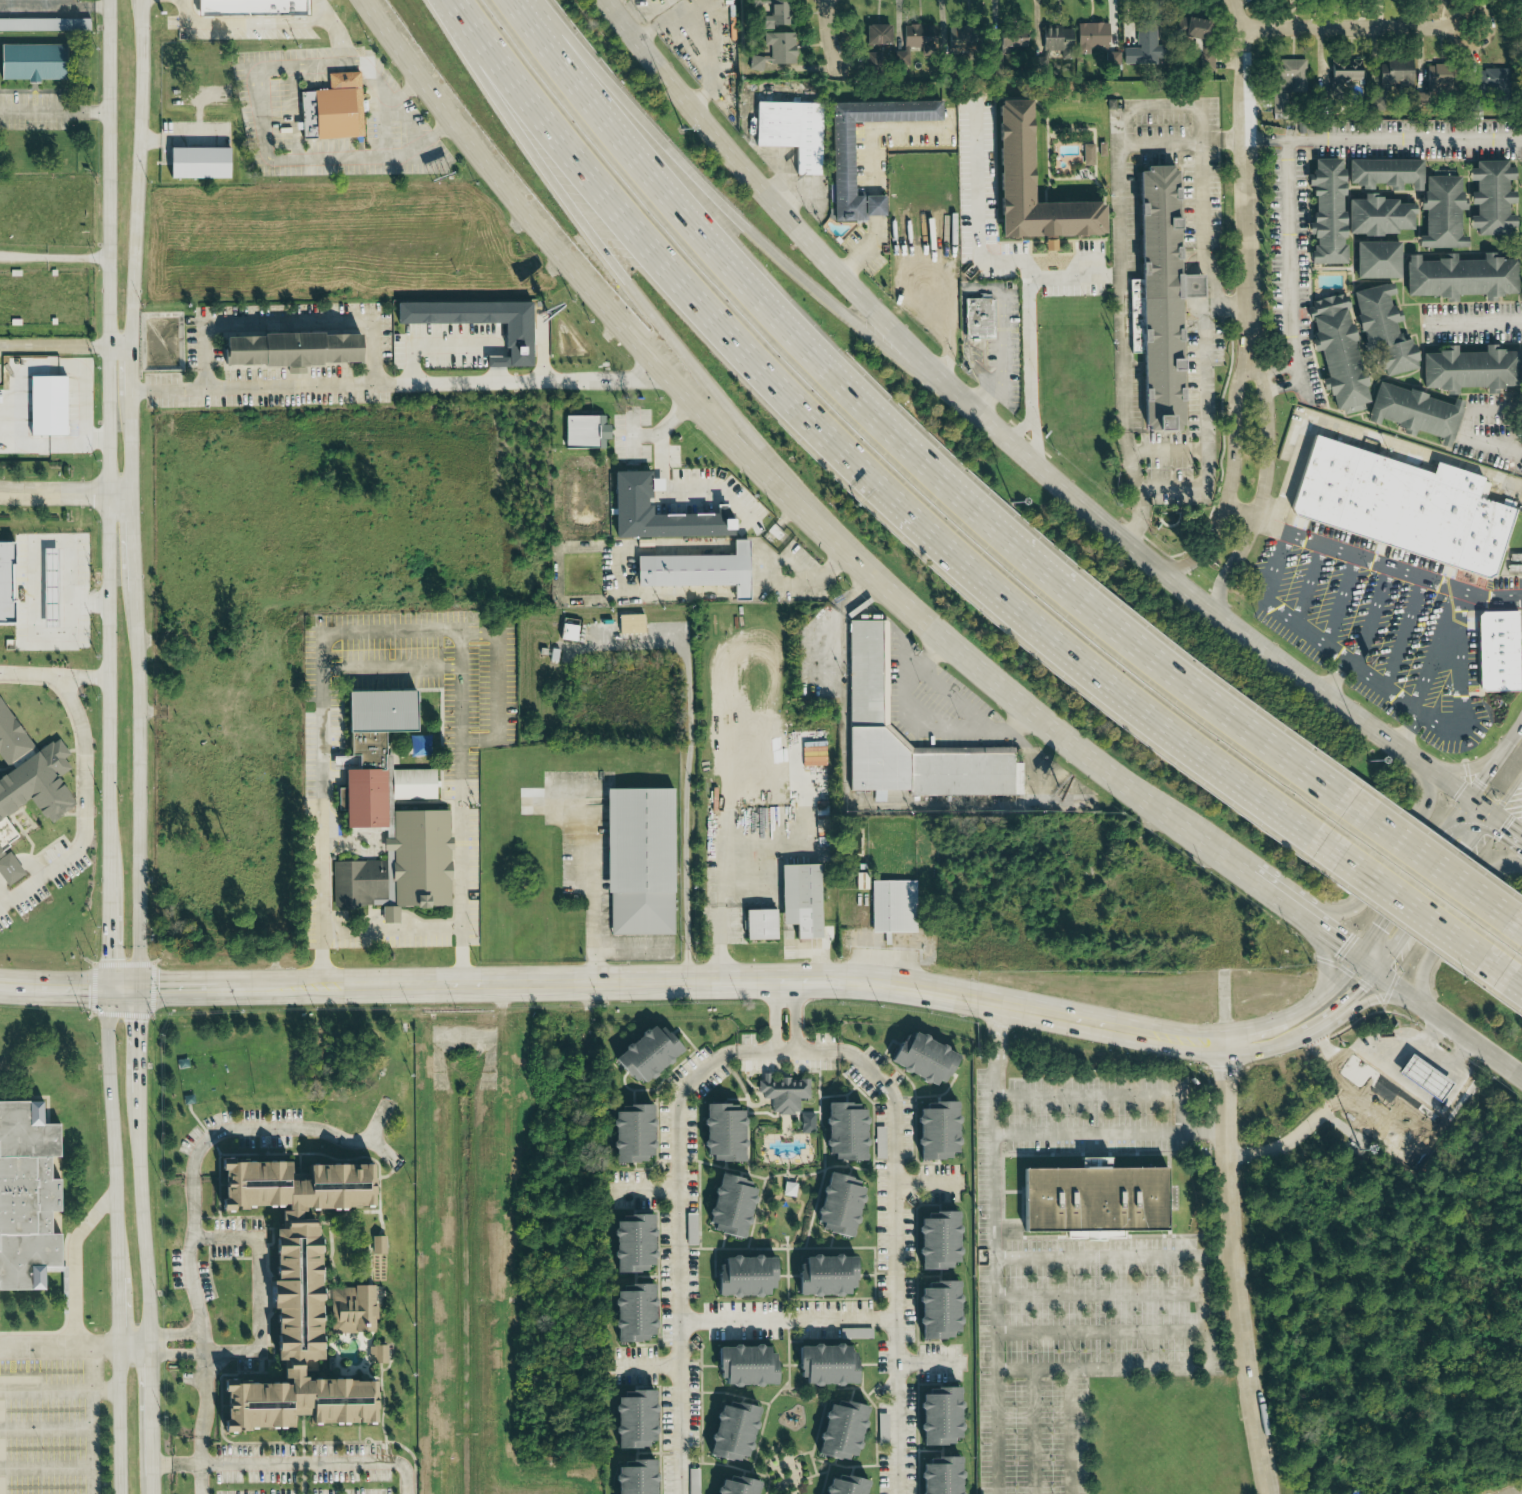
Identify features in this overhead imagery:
building: (71, 0)
road: (157, 0)
road: (179, 5)
road: (54, 7)
building: (253, 8)
road: (326, 11)
road: (254, 23)
building: (44, 25)
road: (1356, 27)
building: (1191, 29)
building: (777, 33)
building: (877, 35)
building: (918, 37)
building: (1090, 37)
road: (829, 38)
building: (1054, 38)
road: (697, 39)
building: (959, 39)
building: (1007, 41)
road: (338, 43)
building: (1142, 48)
building: (870, 57)
road: (356, 62)
building: (1206, 62)
building: (30, 63)
building: (1343, 73)
building: (1391, 74)
road: (260, 76)
building: (1491, 79)
building: (1438, 80)
building: (1286, 81)
road: (405, 91)
road: (394, 103)
road: (1161, 107)
building: (334, 109)
road: (54, 111)
building: (789, 131)
road: (878, 131)
road: (435, 133)
road: (182, 138)
road: (1291, 139)
building: (1014, 154)
building: (1087, 154)
road: (347, 156)
building: (840, 157)
building: (201, 163)
road: (139, 173)
building: (1384, 173)
road: (1245, 176)
road: (787, 183)
road: (781, 196)
building: (1490, 197)
road: (1203, 200)
road: (876, 204)
building: (1326, 210)
building: (1440, 211)
building: (1377, 215)
road: (747, 230)
road: (462, 240)
building: (1049, 244)
road: (866, 249)
road: (23, 255)
road: (78, 256)
building: (1376, 259)
road: (1024, 264)
road: (1195, 264)
road: (1061, 276)
building: (1459, 276)
road: (1212, 280)
road: (1121, 281)
road: (1195, 285)
road: (981, 286)
building: (1158, 299)
road: (1201, 301)
road: (1227, 305)
building: (977, 317)
road: (1481, 320)
road: (292, 324)
road: (666, 328)
building: (1381, 329)
building: (515, 340)
road: (436, 342)
road: (66, 346)
building: (285, 348)
building: (1336, 352)
road: (497, 355)
building: (1469, 368)
road: (131, 369)
road: (498, 372)
road: (1279, 376)
road: (397, 387)
road: (982, 398)
building: (48, 404)
building: (1414, 411)
road: (82, 414)
road: (661, 429)
road: (1207, 429)
road: (1360, 429)
building: (583, 431)
road: (1496, 442)
road: (131, 443)
road: (1013, 444)
road: (904, 450)
road: (1168, 450)
road: (856, 476)
road: (1232, 477)
road: (764, 481)
road: (683, 487)
road: (1263, 488)
road: (65, 493)
building: (628, 503)
building: (1398, 505)
road: (133, 542)
road: (1372, 561)
building: (695, 570)
road: (1310, 582)
road: (782, 583)
building: (6, 584)
road: (1341, 600)
road: (26, 603)
road: (1371, 617)
road: (1293, 618)
building: (629, 623)
road: (346, 632)
building: (567, 632)
road: (1404, 635)
road: (1434, 651)
building: (1496, 651)
road: (1446, 662)
road: (391, 666)
building: (869, 674)
road: (54, 675)
road: (496, 684)
road: (1383, 688)
road: (958, 699)
road: (1465, 703)
road: (929, 724)
road: (109, 747)
road: (690, 754)
building: (375, 758)
road: (1495, 760)
road: (1464, 768)
building: (28, 776)
traffic signals: (1481, 781)
road: (139, 789)
road: (1508, 795)
road: (86, 810)
road: (1506, 824)
traffic signals: (1509, 826)
road: (802, 830)
traffic signals: (1467, 844)
road: (1396, 857)
building: (637, 860)
building: (399, 867)
road: (1438, 867)
building: (7, 869)
road: (1413, 877)
road: (590, 891)
road: (1432, 891)
building: (798, 899)
road: (1282, 904)
building: (891, 906)
road: (1412, 911)
road: (1456, 922)
building: (758, 924)
road: (1514, 924)
traffic signals: (1380, 925)
road: (393, 928)
road: (463, 939)
road: (1335, 942)
traffic signals: (1340, 945)
road: (1325, 960)
road: (1503, 976)
road: (651, 981)
road: (68, 988)
traffic signals: (110, 988)
traffic signals: (138, 988)
traffic signals: (1361, 988)
road: (1325, 993)
road: (1374, 999)
road: (1439, 1017)
road: (1253, 1028)
road: (1310, 1030)
road: (135, 1039)
road: (784, 1039)
road: (1191, 1041)
road: (811, 1050)
building: (643, 1054)
road: (1329, 1057)
building: (920, 1059)
road: (1449, 1064)
building: (1427, 1078)
gas station: (1427, 1078)
building: (782, 1093)
road: (1106, 1094)
road: (1337, 1096)
building: (806, 1123)
road: (995, 1130)
building: (842, 1131)
building: (933, 1131)
building: (1388, 1131)
building: (719, 1132)
road: (1110, 1132)
building: (628, 1134)
road: (212, 1136)
building: (879, 1142)
road: (925, 1183)
road: (642, 1189)
building: (29, 1198)
building: (1090, 1199)
building: (835, 1205)
building: (727, 1206)
road: (142, 1218)
building: (690, 1229)
road: (251, 1236)
building: (934, 1241)
building: (629, 1244)
building: (376, 1245)
road: (1217, 1253)
road: (677, 1257)
road: (890, 1258)
road: (77, 1262)
road: (1234, 1269)
building: (822, 1275)
building: (742, 1277)
building: (289, 1294)
road: (1100, 1294)
building: (351, 1309)
building: (935, 1311)
building: (630, 1314)
road: (784, 1319)
building: (854, 1333)
road: (1102, 1333)
road: (1208, 1340)
road: (134, 1345)
road: (59, 1346)
road: (177, 1346)
building: (375, 1354)
road: (927, 1363)
road: (640, 1366)
building: (742, 1366)
building: (823, 1366)
road: (1034, 1368)
road: (998, 1374)
road: (59, 1389)
road: (206, 1405)
road: (151, 1410)
building: (936, 1417)
building: (631, 1420)
road: (46, 1428)
building: (837, 1431)
road: (1033, 1431)
building: (729, 1432)
road: (92, 1441)
road: (301, 1463)
road: (175, 1464)
road: (46, 1467)
building: (937, 1476)
building: (632, 1478)
road: (152, 1484)
building: (732, 1486)
building: (842, 1486)
road: (1519, 1493)

